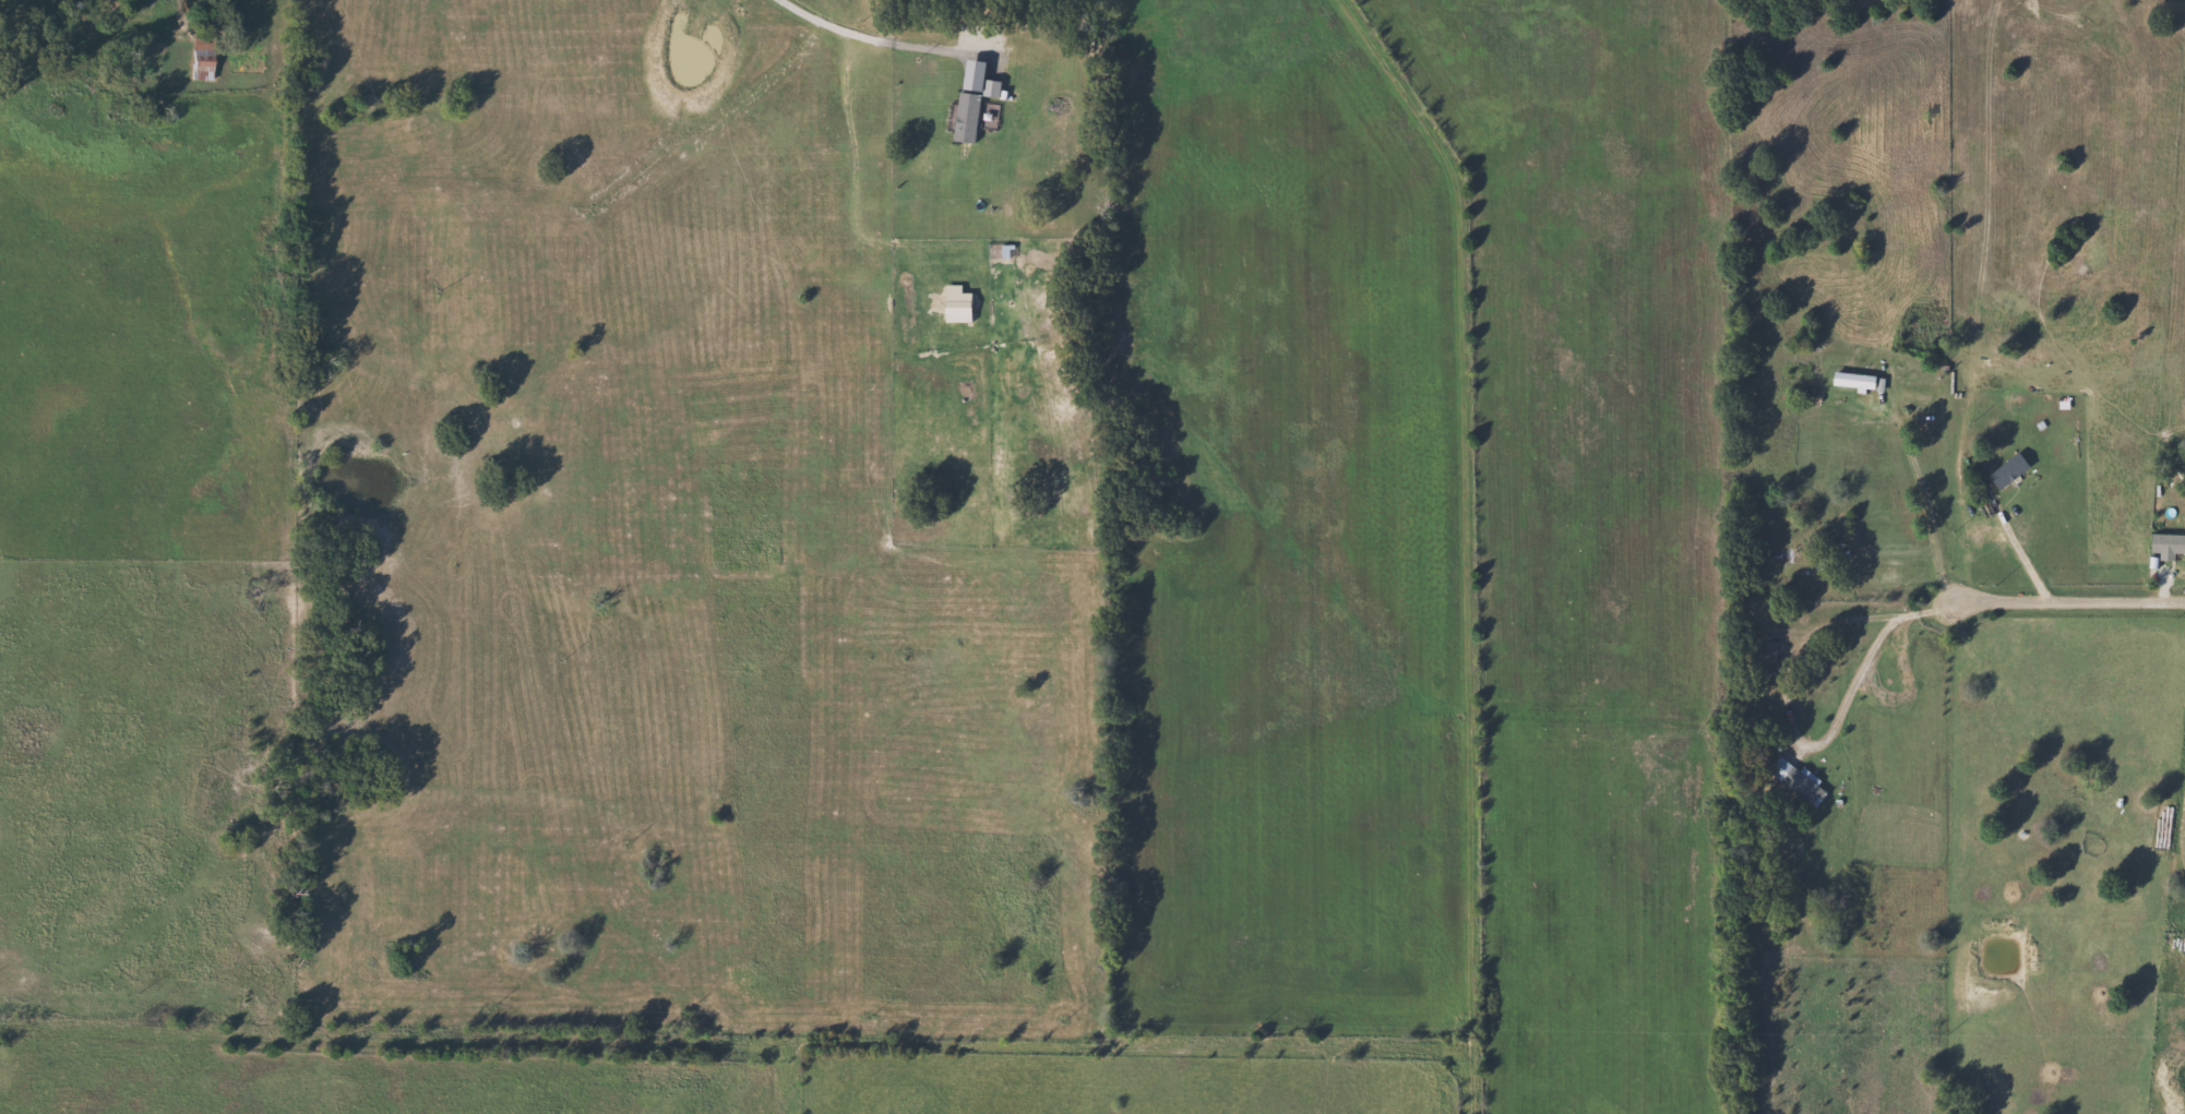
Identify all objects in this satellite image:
road: (887, 43)
building: (208, 59)
building: (1850, 381)
building: (2005, 471)
road: (1476, 491)
road: (1921, 504)
road: (2018, 559)
road: (2047, 604)
road: (1852, 623)
road: (1866, 673)
building: (1792, 781)
road: (55, 1010)
road: (1476, 1061)

